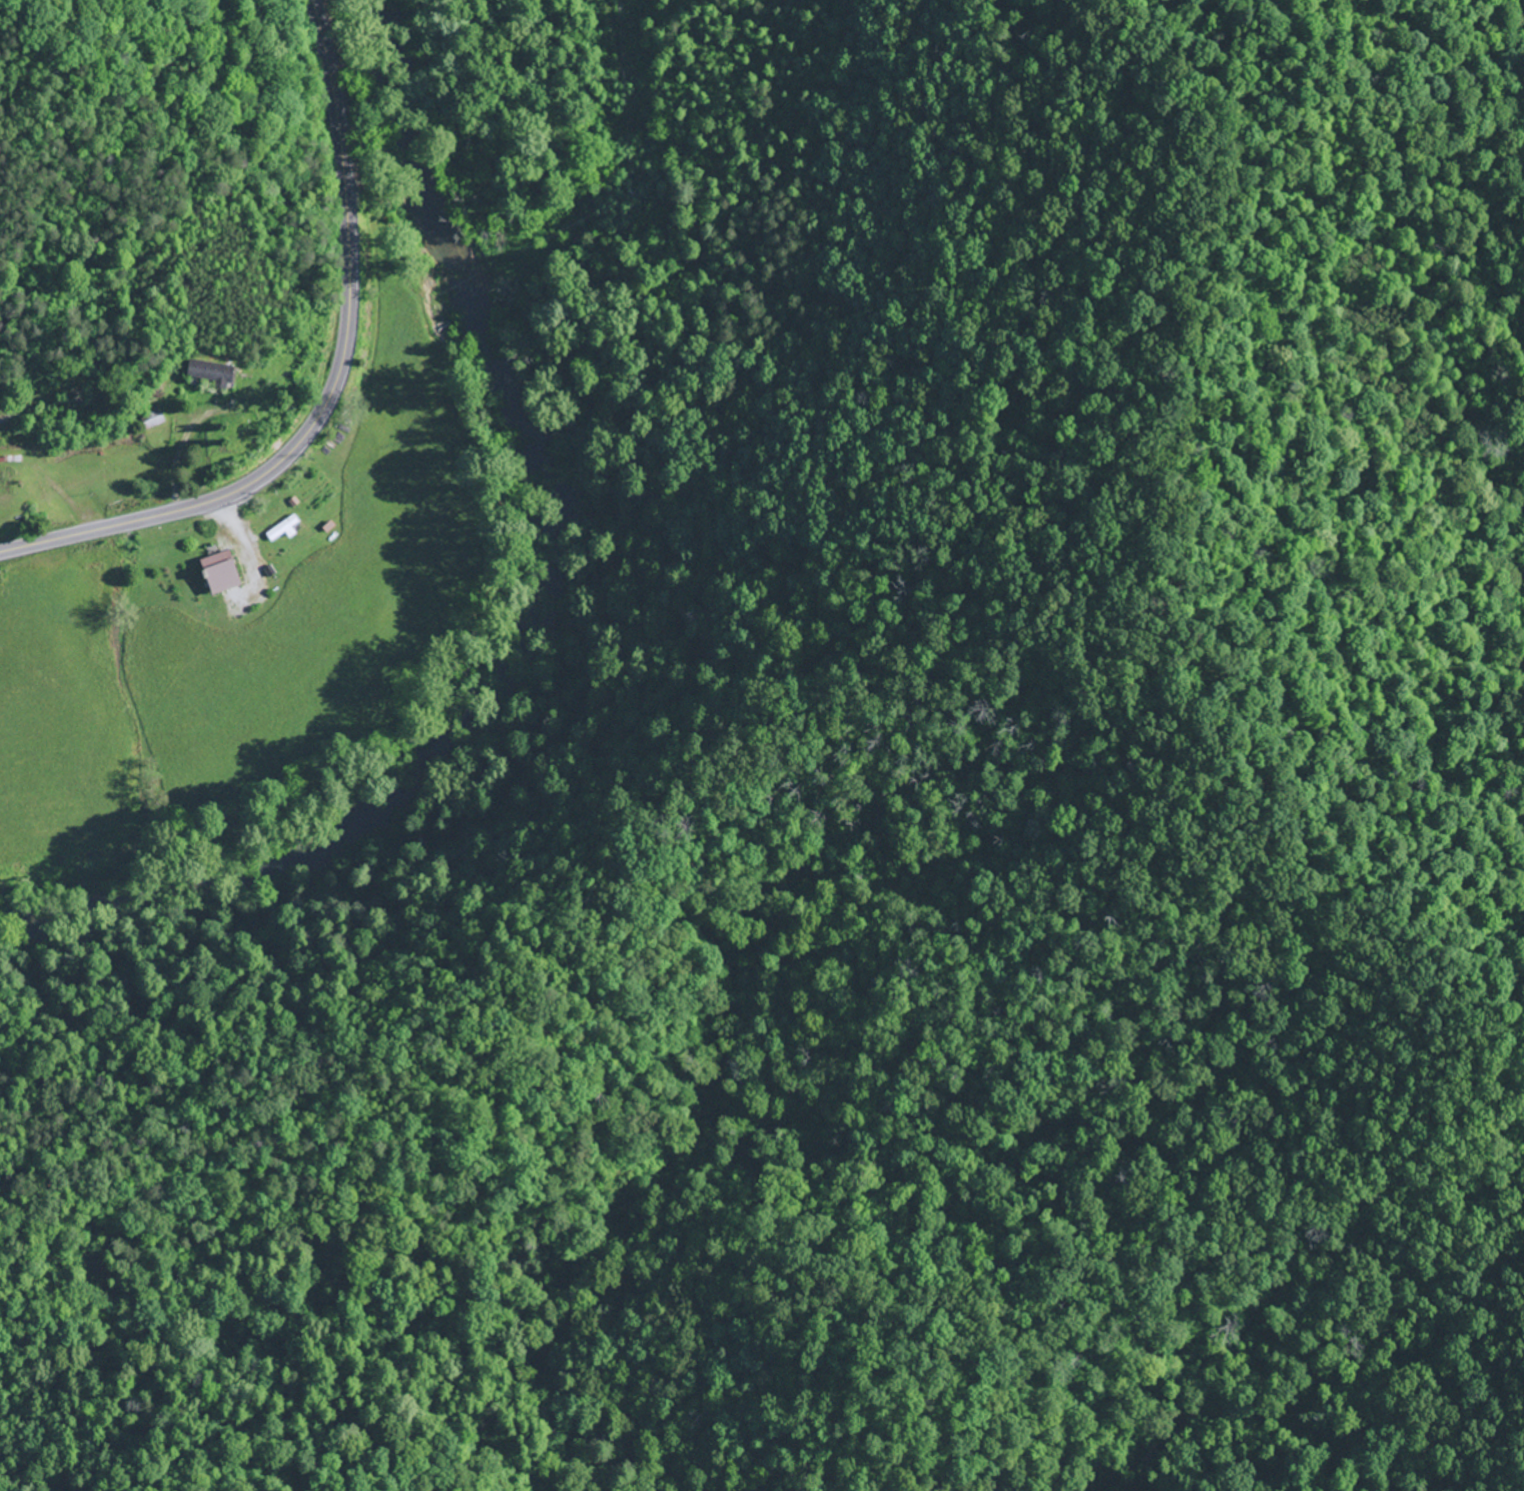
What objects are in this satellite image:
building: (214, 373)
road: (336, 386)
building: (154, 420)
building: (286, 530)
building: (224, 573)

